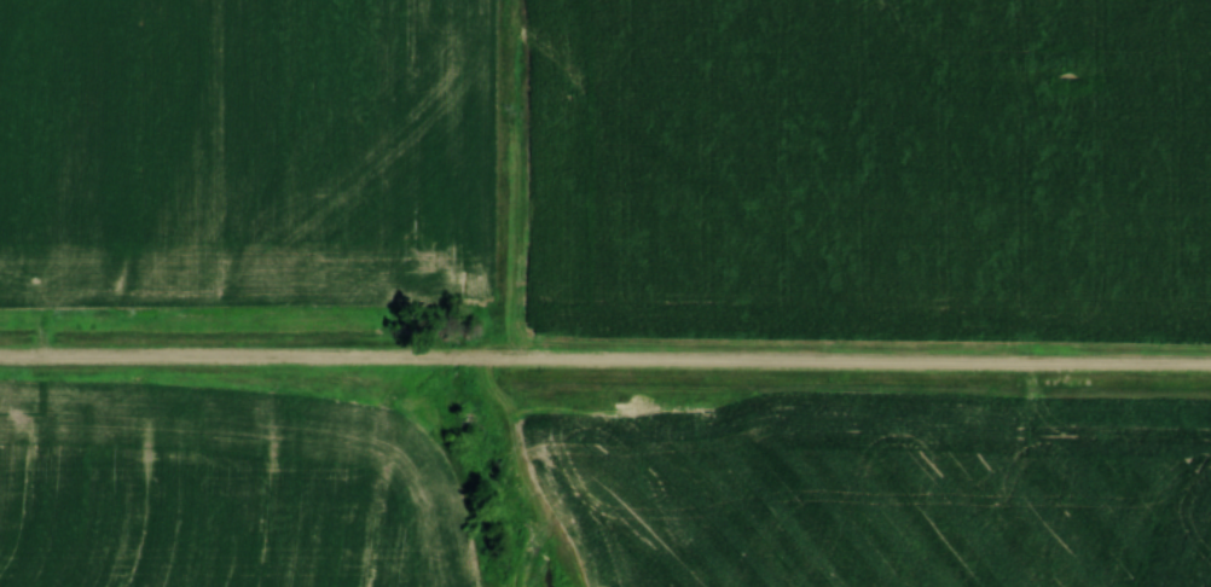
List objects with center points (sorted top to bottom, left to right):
road: (605, 367)

